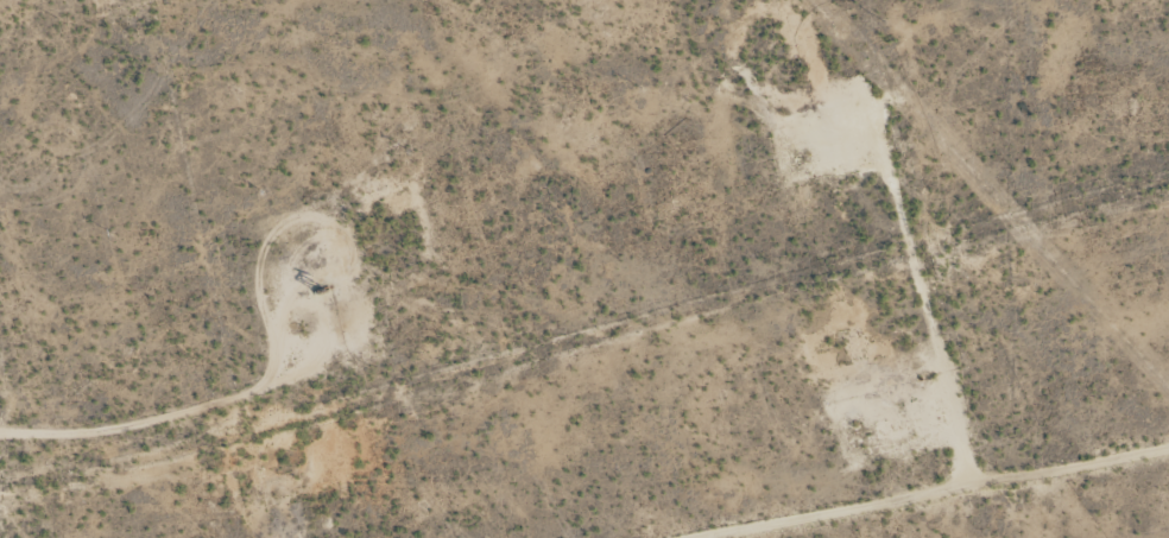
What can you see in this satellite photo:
road: (866, 476)
road: (12, 502)

